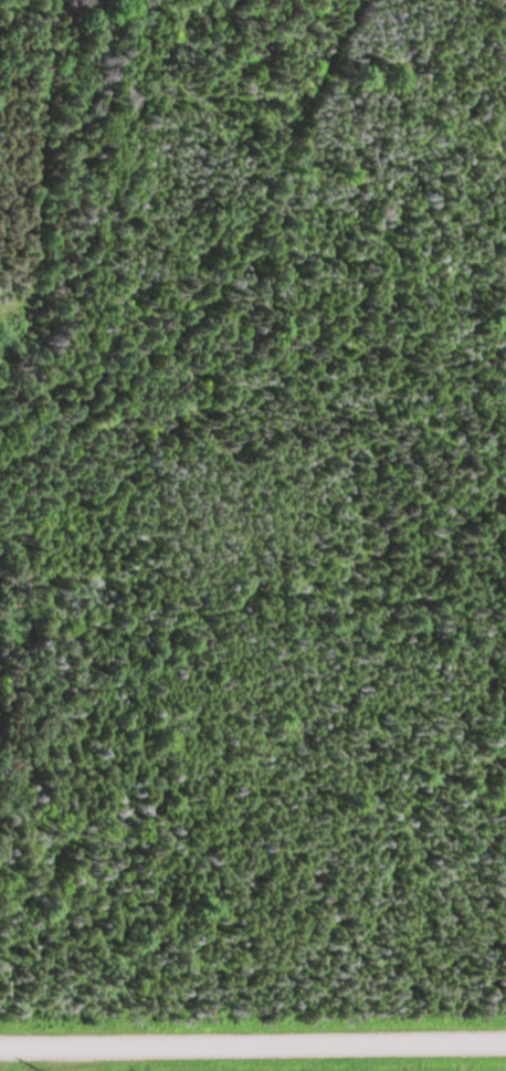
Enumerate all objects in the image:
road: (253, 1044)

